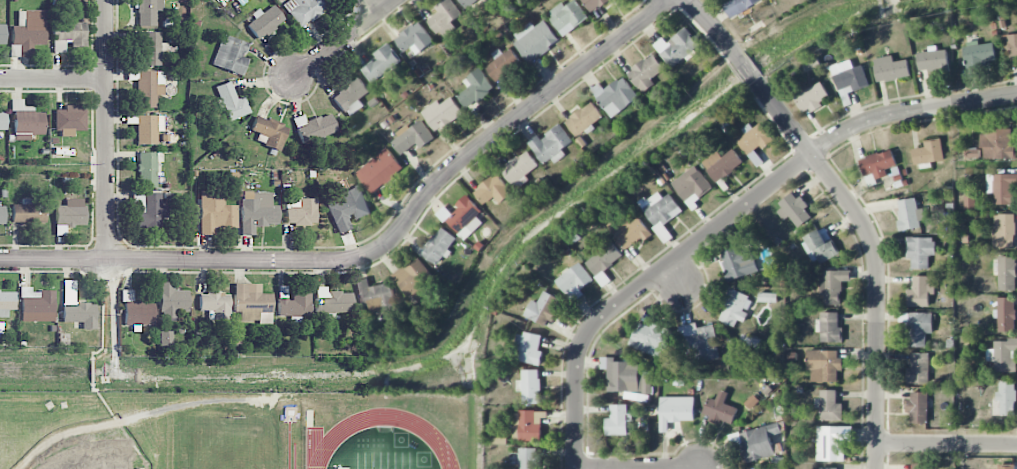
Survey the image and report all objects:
building: (467, 2)
building: (594, 4)
road: (372, 6)
building: (738, 6)
building: (305, 9)
building: (148, 11)
building: (567, 17)
building: (445, 18)
building: (265, 21)
building: (28, 31)
building: (67, 33)
building: (2, 34)
road: (343, 38)
building: (414, 39)
building: (534, 40)
building: (1011, 45)
building: (677, 47)
building: (151, 48)
building: (978, 54)
building: (231, 55)
building: (933, 60)
building: (502, 63)
building: (382, 64)
building: (890, 69)
building: (646, 72)
building: (849, 76)
road: (53, 80)
building: (149, 88)
building: (475, 88)
building: (615, 96)
building: (351, 97)
building: (811, 98)
building: (231, 101)
building: (441, 113)
building: (584, 119)
building: (3, 120)
building: (70, 120)
building: (25, 121)
building: (148, 128)
building: (314, 129)
road: (107, 130)
building: (270, 131)
building: (412, 137)
building: (754, 142)
building: (998, 144)
building: (550, 145)
building: (928, 153)
building: (972, 153)
building: (722, 164)
building: (877, 164)
building: (147, 168)
building: (519, 169)
building: (379, 170)
building: (692, 185)
building: (1002, 188)
building: (493, 190)
road: (854, 206)
building: (347, 207)
road: (415, 207)
building: (794, 210)
building: (152, 211)
building: (215, 211)
building: (301, 211)
building: (28, 212)
building: (257, 212)
building: (660, 212)
building: (909, 214)
building: (2, 215)
building: (69, 215)
road: (728, 216)
building: (462, 218)
building: (1004, 231)
building: (631, 233)
building: (436, 246)
building: (820, 247)
building: (920, 251)
building: (604, 258)
road: (55, 260)
building: (738, 262)
building: (1006, 273)
building: (413, 278)
building: (574, 280)
building: (833, 286)
building: (920, 291)
building: (377, 296)
building: (171, 299)
building: (334, 301)
building: (6, 302)
building: (252, 303)
building: (292, 303)
building: (216, 304)
building: (36, 305)
building: (734, 307)
building: (542, 309)
building: (136, 310)
building: (80, 314)
building: (1006, 314)
building: (830, 328)
building: (919, 328)
building: (165, 338)
building: (650, 339)
building: (701, 341)
building: (527, 348)
building: (1005, 355)
building: (824, 366)
building: (919, 368)
building: (625, 376)
building: (529, 387)
building: (1006, 398)
building: (830, 406)
building: (918, 406)
building: (675, 411)
building: (720, 411)
building: (617, 420)
building: (530, 425)
track: (442, 438)
building: (759, 442)
building: (832, 442)
road: (947, 442)
building: (528, 458)
building: (920, 466)
building: (1006, 466)
road: (625, 467)
building: (828, 468)

